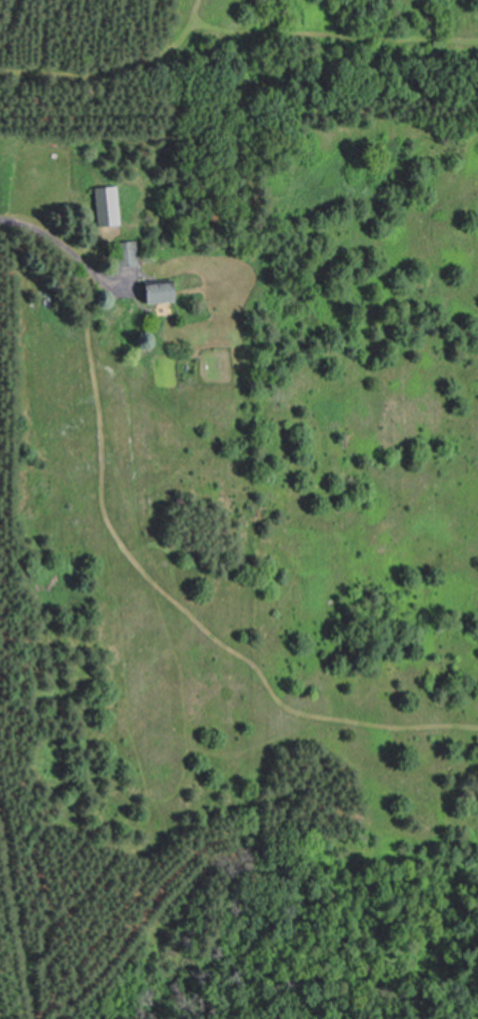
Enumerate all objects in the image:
building: (104, 206)
road: (63, 244)
building: (153, 293)

